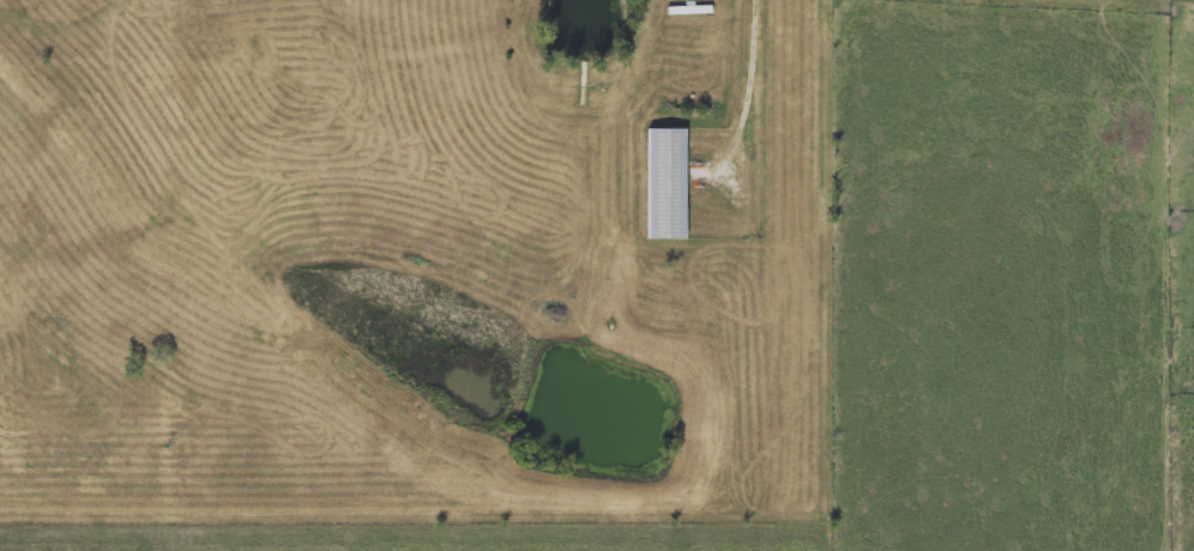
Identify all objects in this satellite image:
building: (691, 7)
road: (750, 81)
building: (665, 181)

